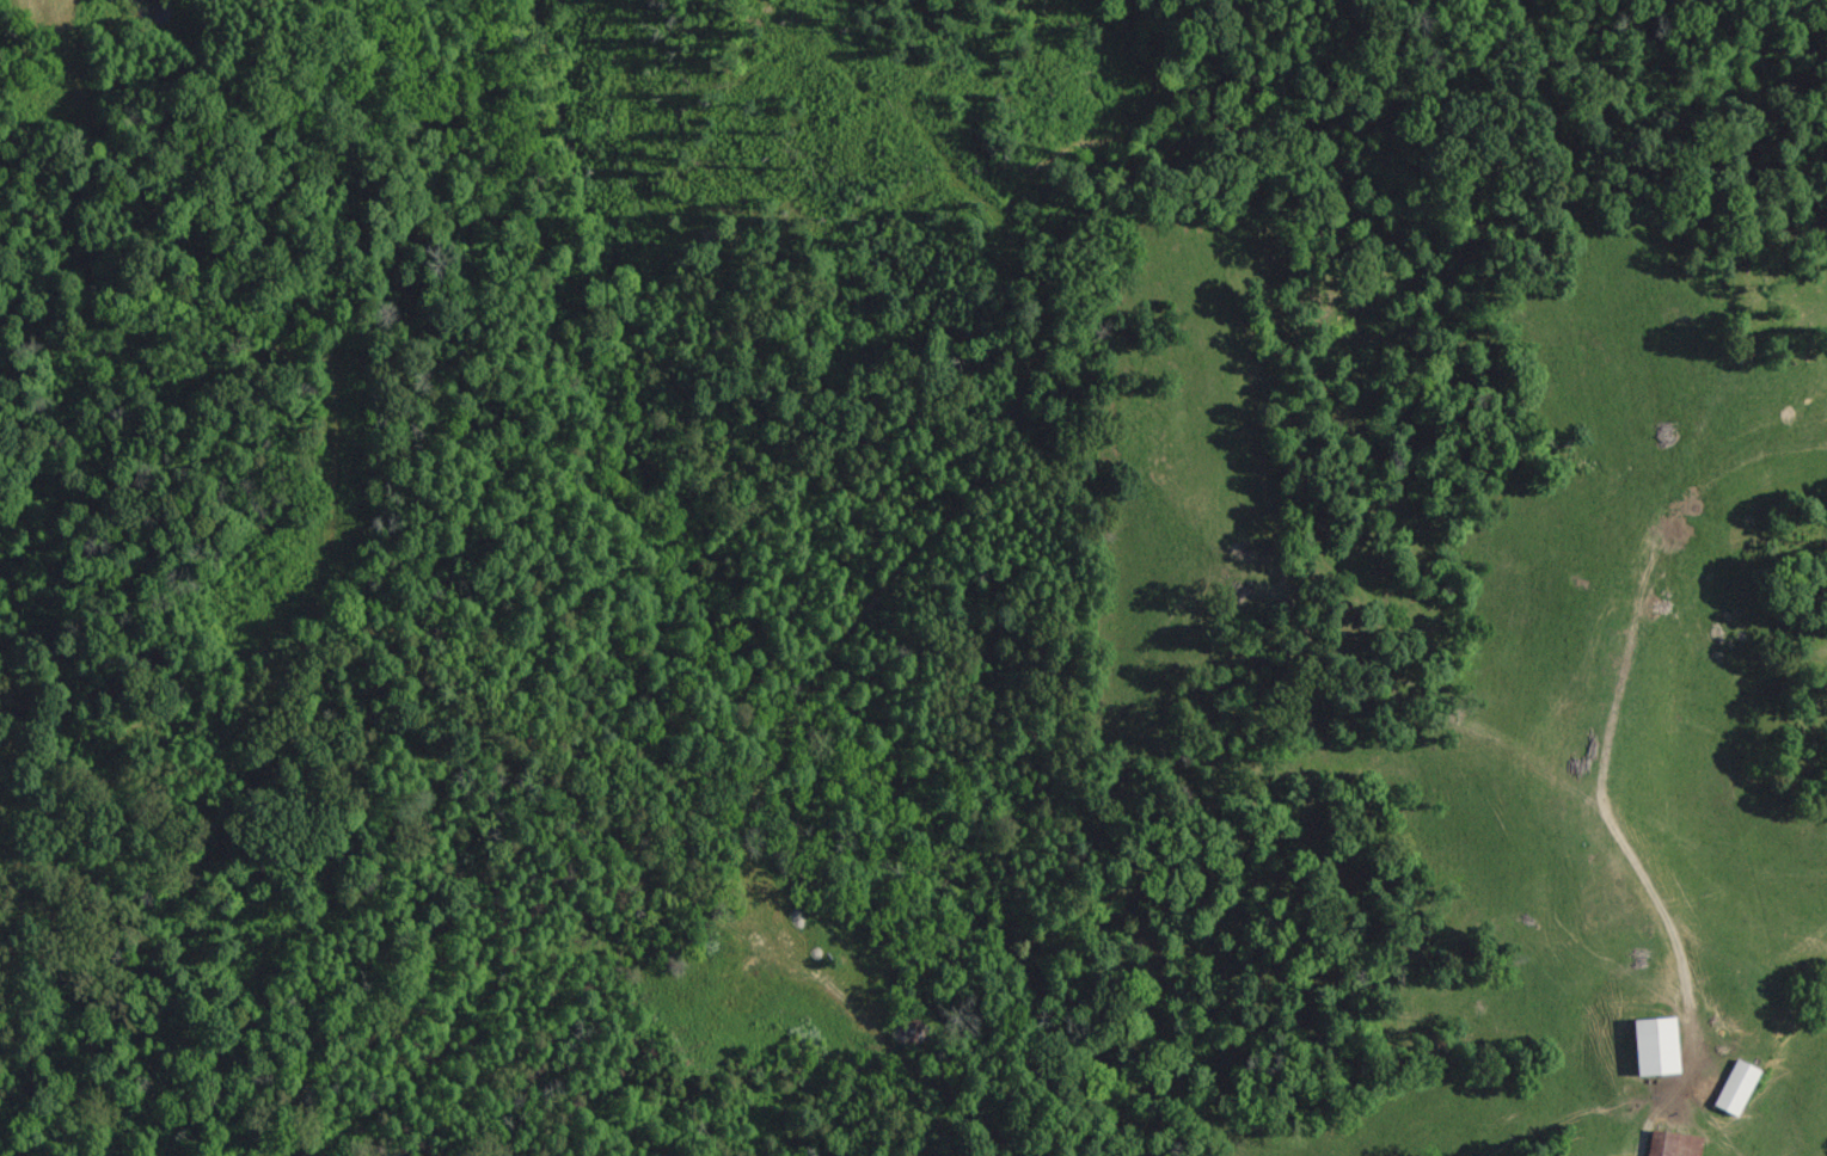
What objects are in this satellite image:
building: (1653, 1045)
building: (1734, 1087)
building: (1670, 1143)

